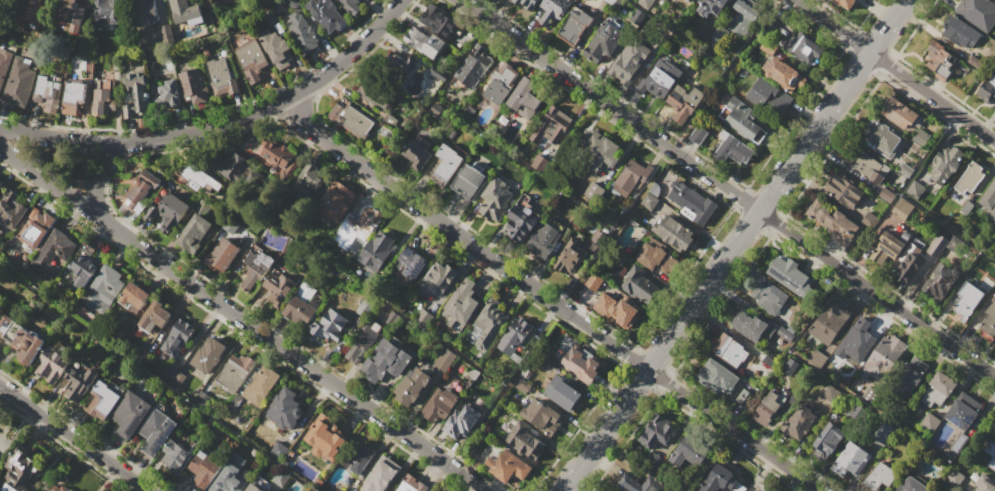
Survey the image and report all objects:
building: (689, 1)
building: (609, 2)
building: (845, 3)
building: (527, 4)
building: (351, 6)
building: (710, 6)
building: (37, 9)
building: (554, 10)
building: (107, 11)
building: (183, 11)
building: (145, 12)
building: (978, 12)
building: (71, 14)
building: (325, 14)
building: (742, 18)
building: (439, 23)
building: (575, 26)
building: (165, 30)
building: (301, 32)
building: (959, 32)
building: (719, 34)
building: (699, 35)
building: (604, 40)
building: (424, 42)
building: (767, 47)
building: (805, 47)
building: (276, 48)
building: (939, 58)
building: (251, 59)
building: (628, 61)
building: (4, 63)
building: (400, 63)
building: (474, 66)
building: (994, 69)
road: (895, 71)
building: (783, 73)
building: (220, 76)
building: (661, 79)
building: (993, 79)
building: (18, 82)
building: (499, 82)
building: (192, 85)
building: (994, 86)
building: (994, 89)
building: (46, 90)
building: (74, 90)
building: (374, 93)
building: (524, 95)
building: (166, 96)
building: (769, 97)
building: (137, 98)
building: (103, 99)
building: (684, 102)
building: (899, 112)
building: (351, 119)
building: (742, 119)
road: (218, 125)
building: (551, 125)
building: (919, 136)
building: (882, 138)
building: (733, 149)
building: (598, 150)
building: (275, 151)
building: (415, 156)
building: (540, 163)
building: (946, 164)
building: (229, 166)
building: (446, 166)
building: (904, 171)
building: (876, 177)
building: (971, 177)
building: (198, 178)
building: (631, 178)
road: (101, 180)
building: (311, 180)
building: (0, 181)
building: (468, 181)
building: (0, 184)
building: (141, 187)
road: (727, 188)
building: (915, 189)
building: (845, 190)
building: (593, 191)
building: (887, 194)
building: (495, 200)
building: (989, 200)
building: (336, 201)
building: (648, 201)
building: (691, 202)
building: (902, 208)
building: (966, 208)
building: (11, 210)
building: (167, 213)
building: (521, 219)
building: (869, 220)
building: (363, 223)
building: (834, 223)
building: (35, 229)
building: (194, 229)
building: (674, 233)
building: (543, 239)
building: (940, 242)
road: (734, 245)
building: (889, 246)
building: (377, 250)
building: (53, 252)
building: (222, 255)
building: (570, 257)
building: (655, 257)
building: (410, 263)
building: (910, 263)
building: (256, 268)
building: (81, 270)
building: (788, 275)
building: (438, 279)
building: (593, 281)
building: (940, 282)
building: (637, 284)
building: (278, 287)
building: (103, 289)
building: (0, 292)
building: (133, 296)
road: (549, 297)
building: (769, 297)
building: (967, 300)
building: (460, 303)
building: (38, 304)
building: (301, 305)
building: (364, 306)
building: (618, 310)
building: (154, 316)
road: (242, 317)
building: (423, 317)
building: (989, 317)
building: (392, 318)
building: (490, 322)
building: (329, 325)
building: (751, 326)
building: (827, 331)
building: (513, 335)
building: (177, 336)
building: (361, 341)
building: (855, 341)
building: (994, 346)
building: (30, 348)
building: (730, 351)
building: (204, 355)
building: (141, 356)
building: (885, 358)
building: (444, 359)
building: (386, 362)
building: (51, 364)
building: (581, 364)
building: (235, 371)
building: (169, 372)
building: (717, 376)
building: (909, 376)
building: (78, 383)
building: (261, 385)
building: (413, 386)
building: (938, 389)
building: (564, 395)
building: (103, 398)
building: (439, 405)
building: (768, 408)
building: (285, 409)
building: (963, 411)
building: (129, 413)
building: (540, 415)
building: (799, 421)
building: (460, 422)
building: (929, 422)
building: (154, 431)
building: (657, 432)
building: (325, 438)
road: (72, 439)
building: (524, 440)
building: (827, 441)
building: (278, 451)
building: (990, 453)
building: (688, 454)
building: (358, 455)
building: (175, 456)
building: (850, 460)
building: (508, 466)
building: (203, 470)
building: (17, 472)
building: (380, 475)
building: (230, 476)
building: (878, 477)
building: (954, 478)
building: (718, 479)
building: (629, 480)
building: (409, 484)
building: (984, 484)
building: (911, 485)
building: (60, 488)
building: (253, 488)
building: (613, 490)
building: (616, 490)

